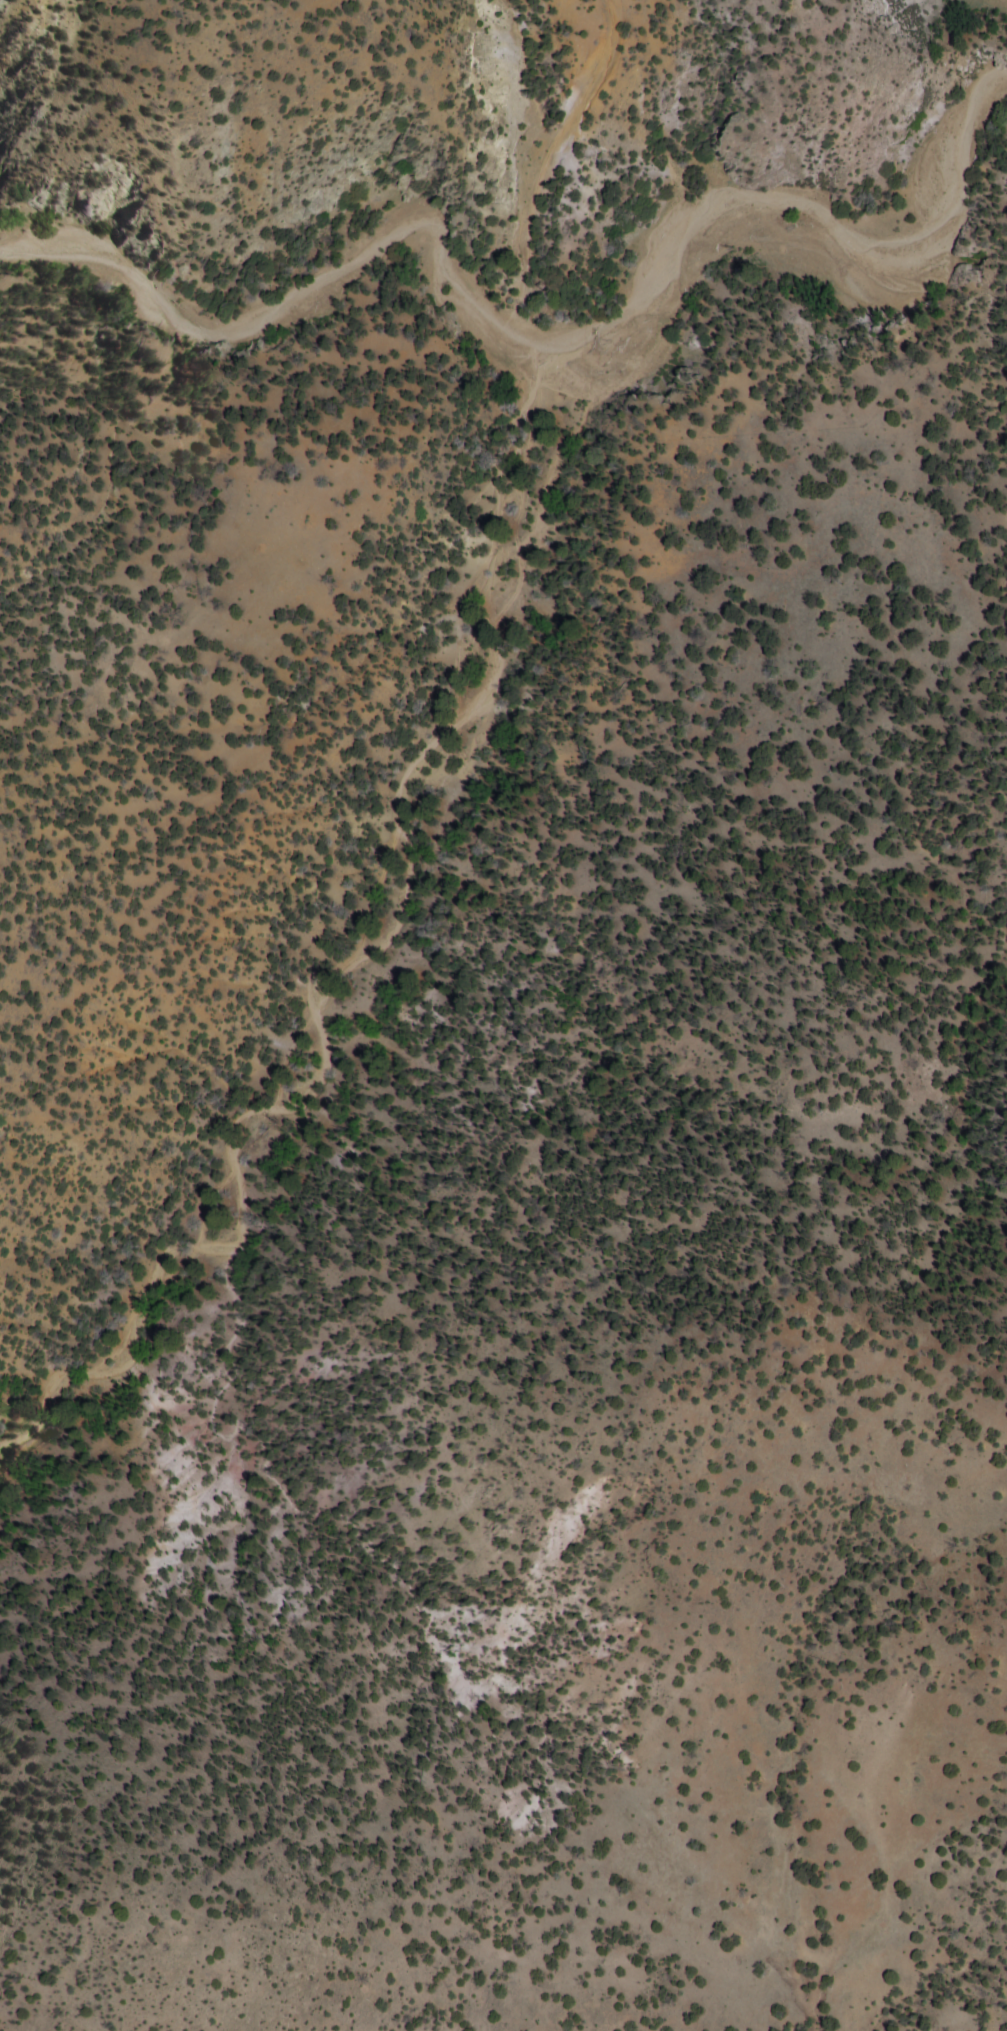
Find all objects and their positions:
road: (549, 157)

